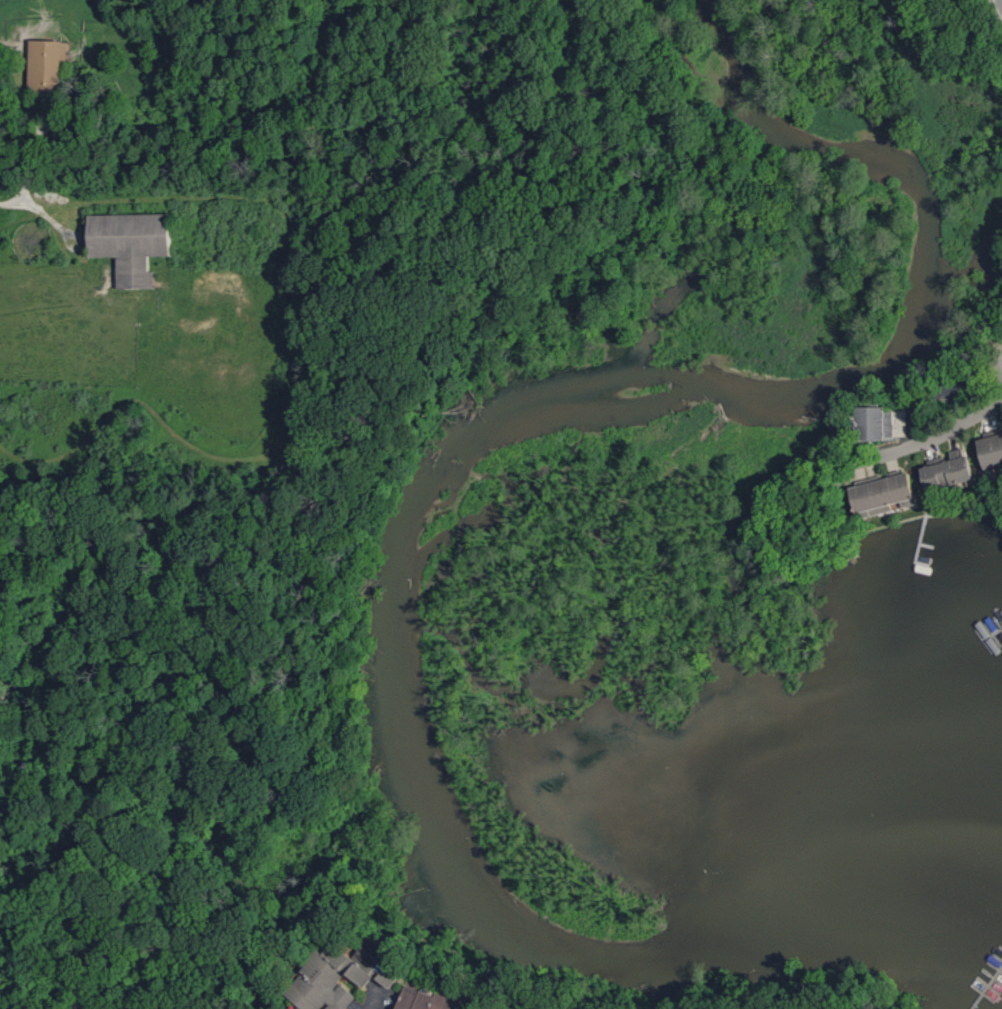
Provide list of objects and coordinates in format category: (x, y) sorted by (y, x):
road: (1001, 2)
building: (47, 65)
road: (10, 202)
building: (133, 244)
road: (941, 390)
building: (878, 423)
road: (936, 438)
building: (993, 451)
building: (951, 471)
building: (888, 493)
building: (339, 978)
road: (373, 1000)
building: (426, 1000)

